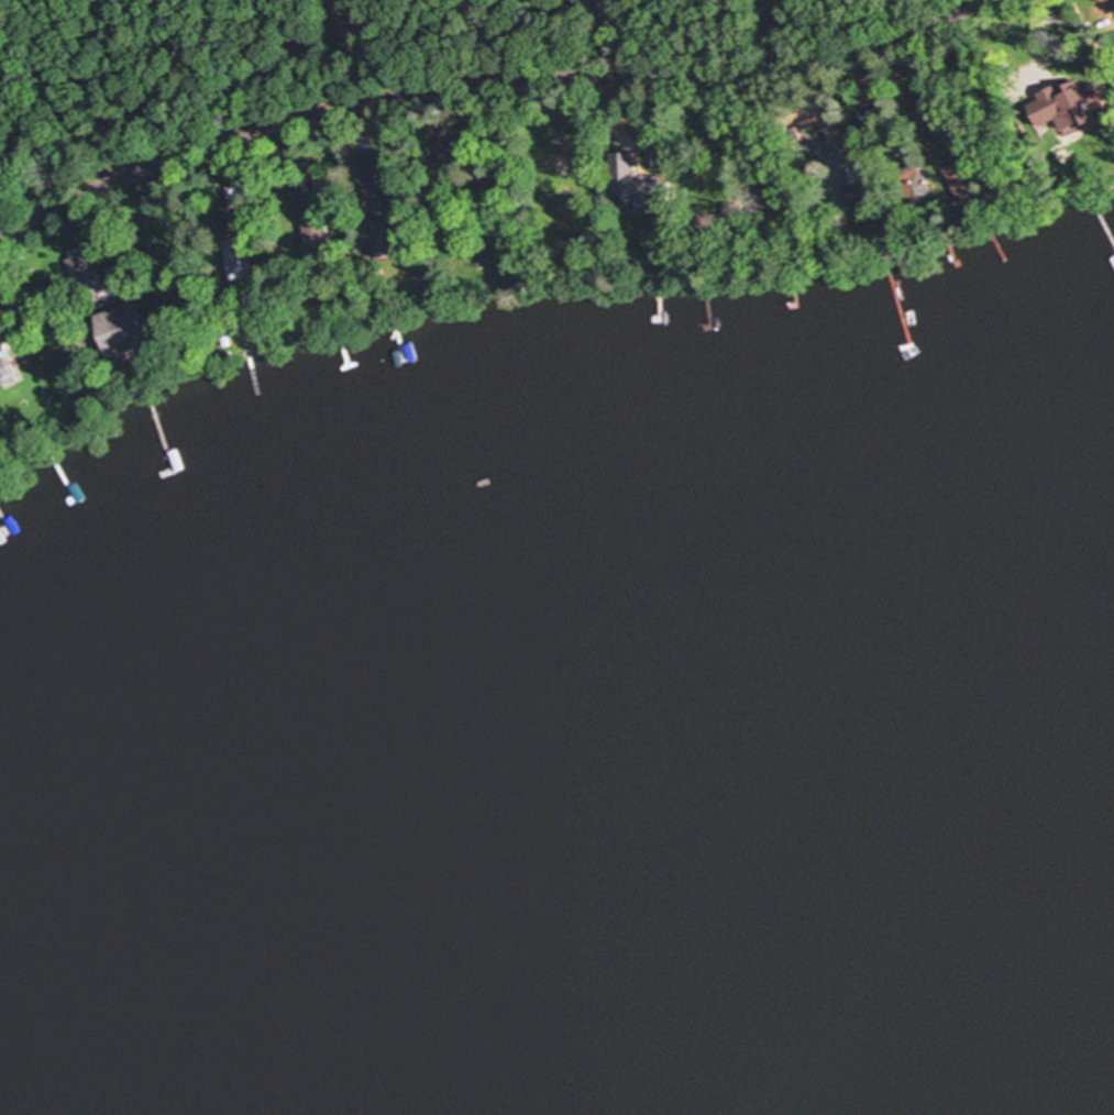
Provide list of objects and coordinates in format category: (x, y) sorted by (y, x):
road: (489, 86)
building: (1074, 111)
building: (960, 183)
building: (633, 186)
building: (915, 186)
building: (858, 198)
building: (558, 207)
building: (318, 234)
building: (383, 238)
building: (87, 280)
building: (122, 333)
building: (4, 364)

